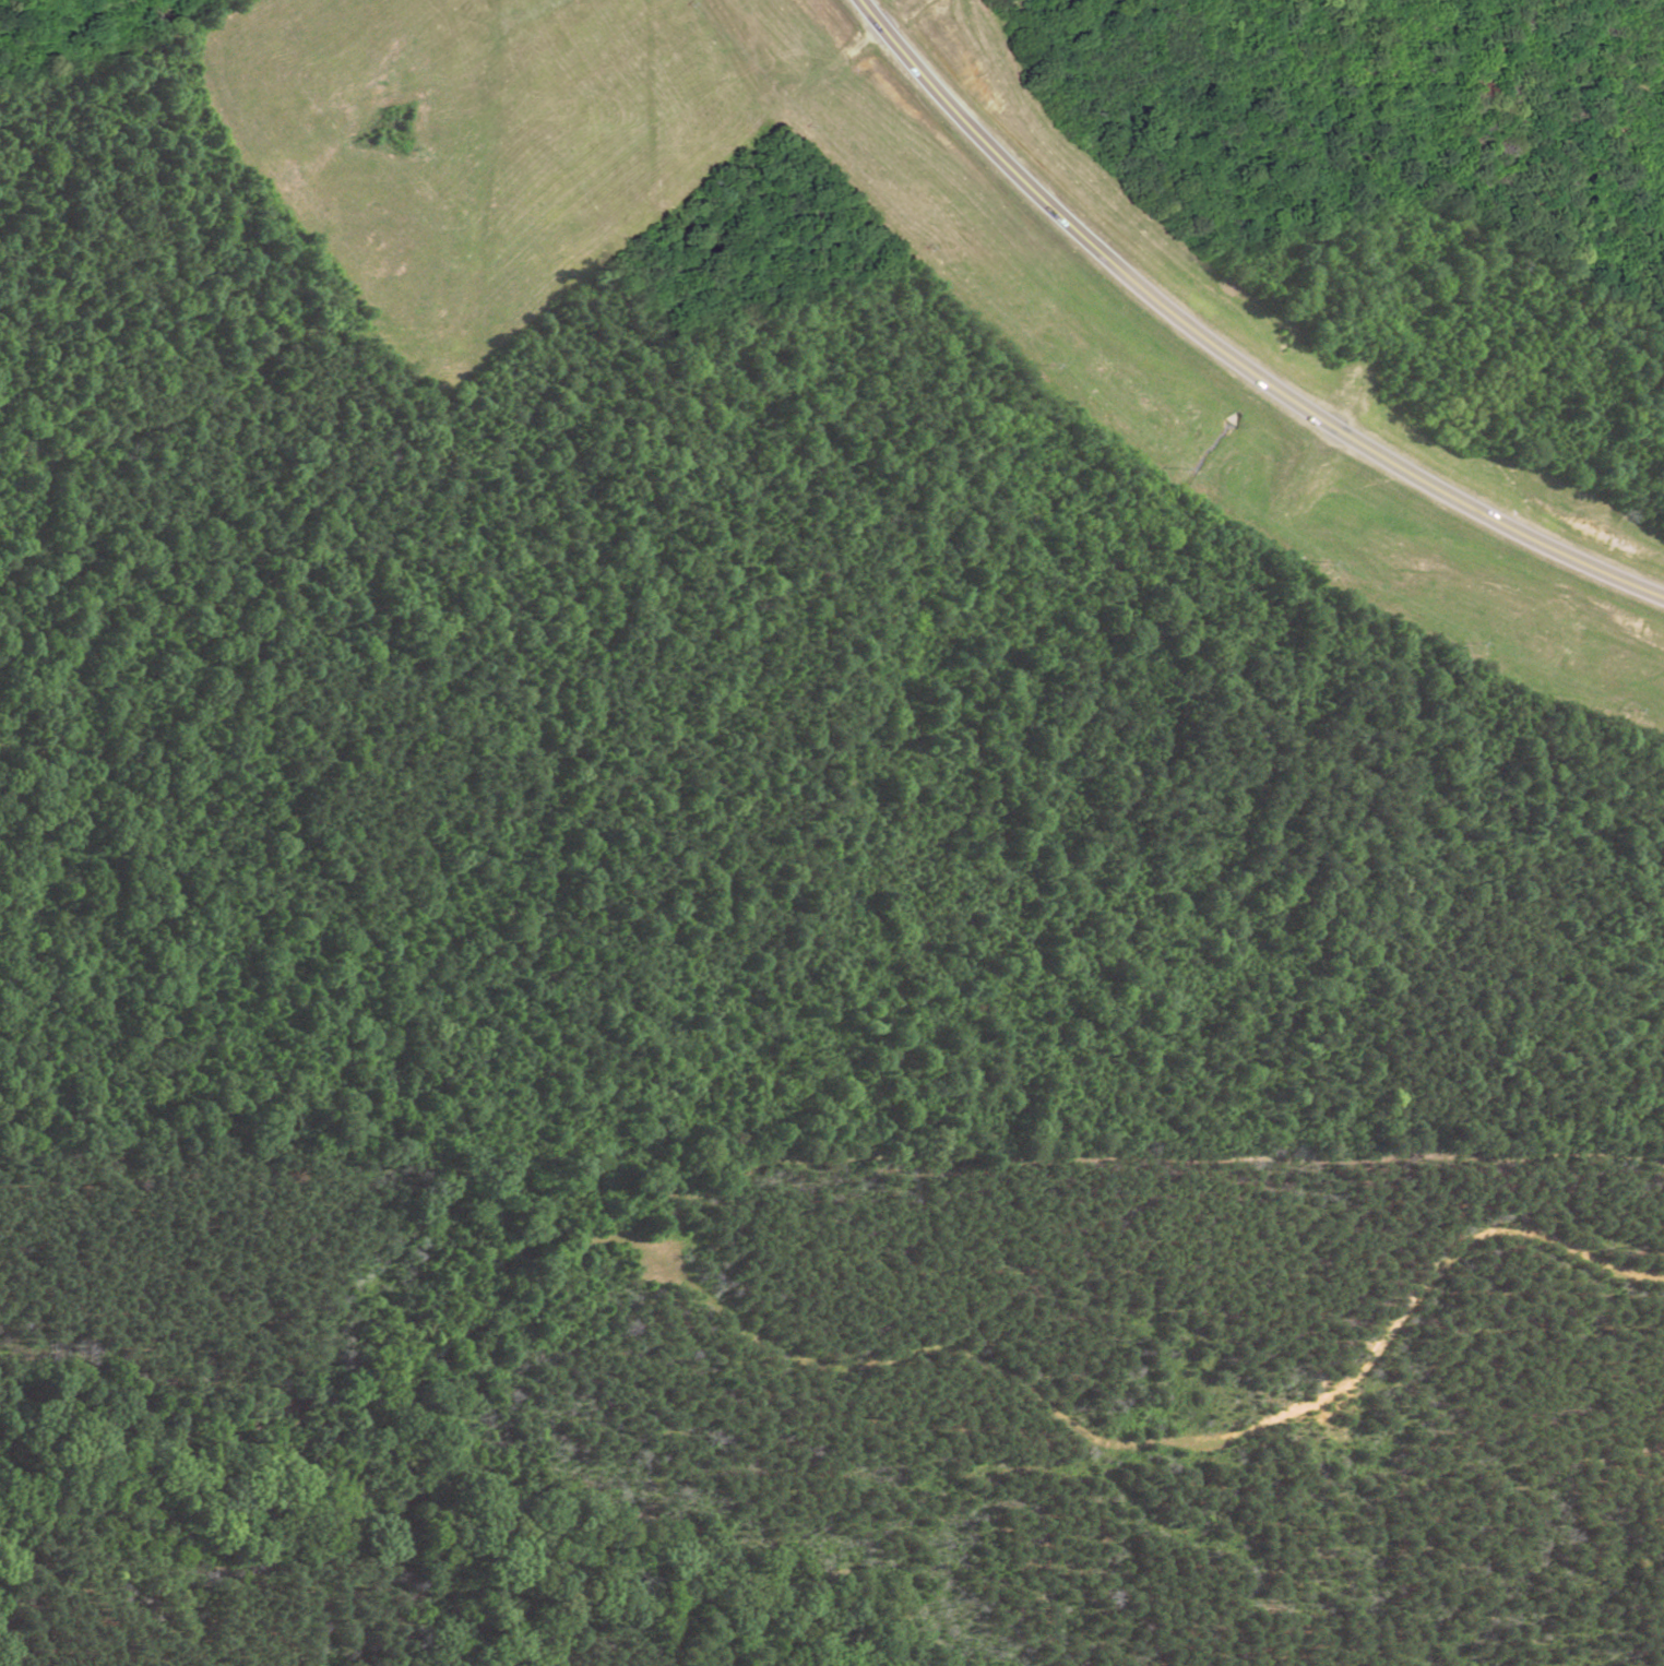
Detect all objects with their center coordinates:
road: (1223, 357)

